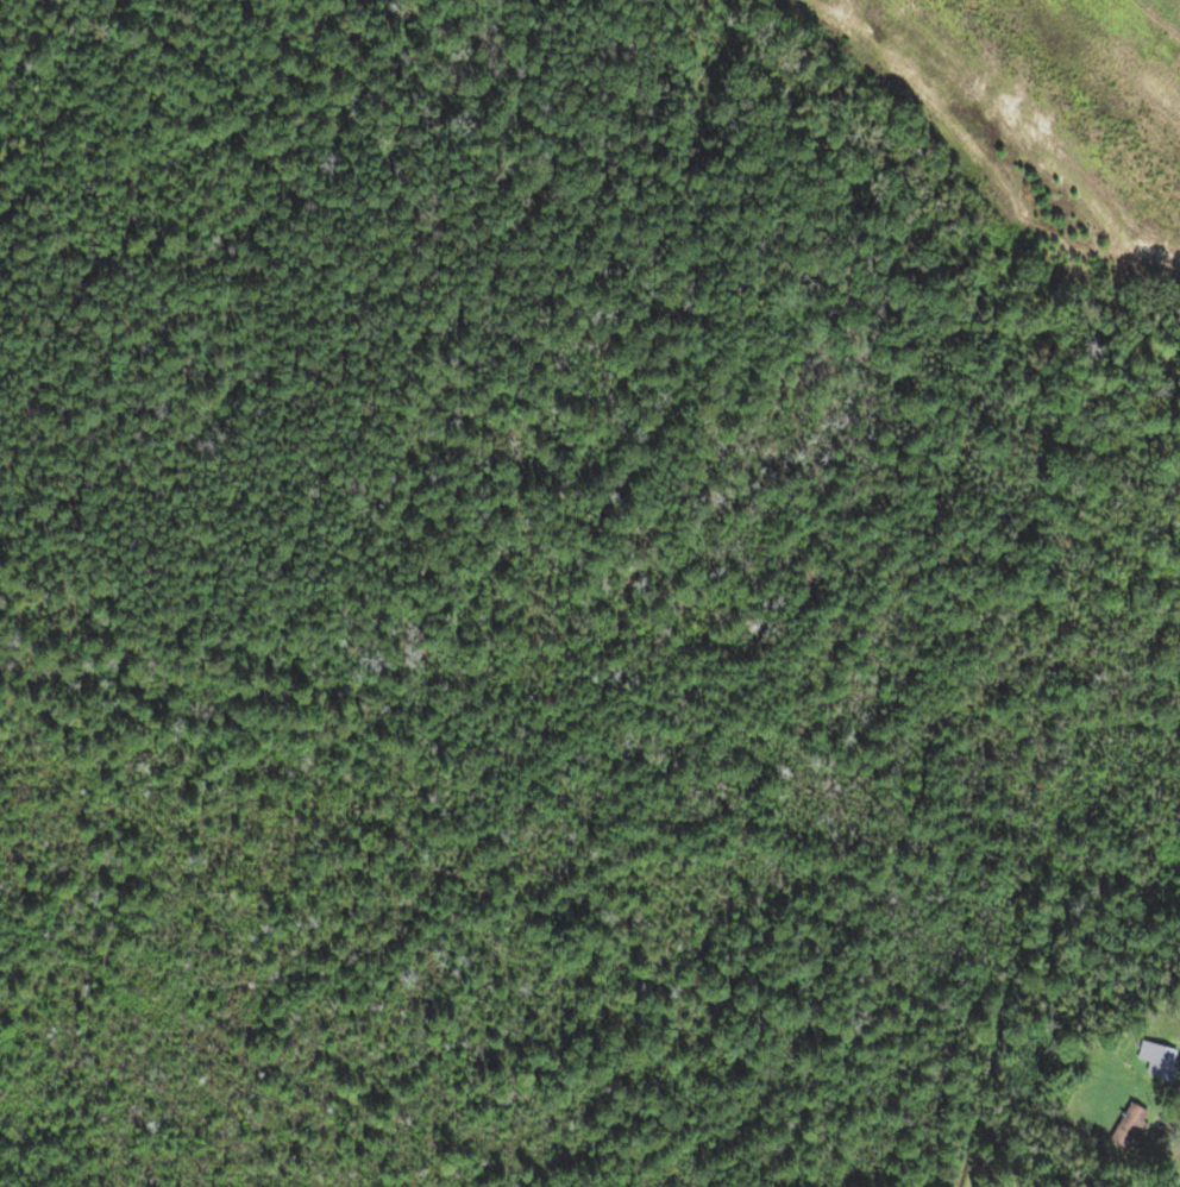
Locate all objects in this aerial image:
building: (1154, 1060)
building: (1119, 1137)

